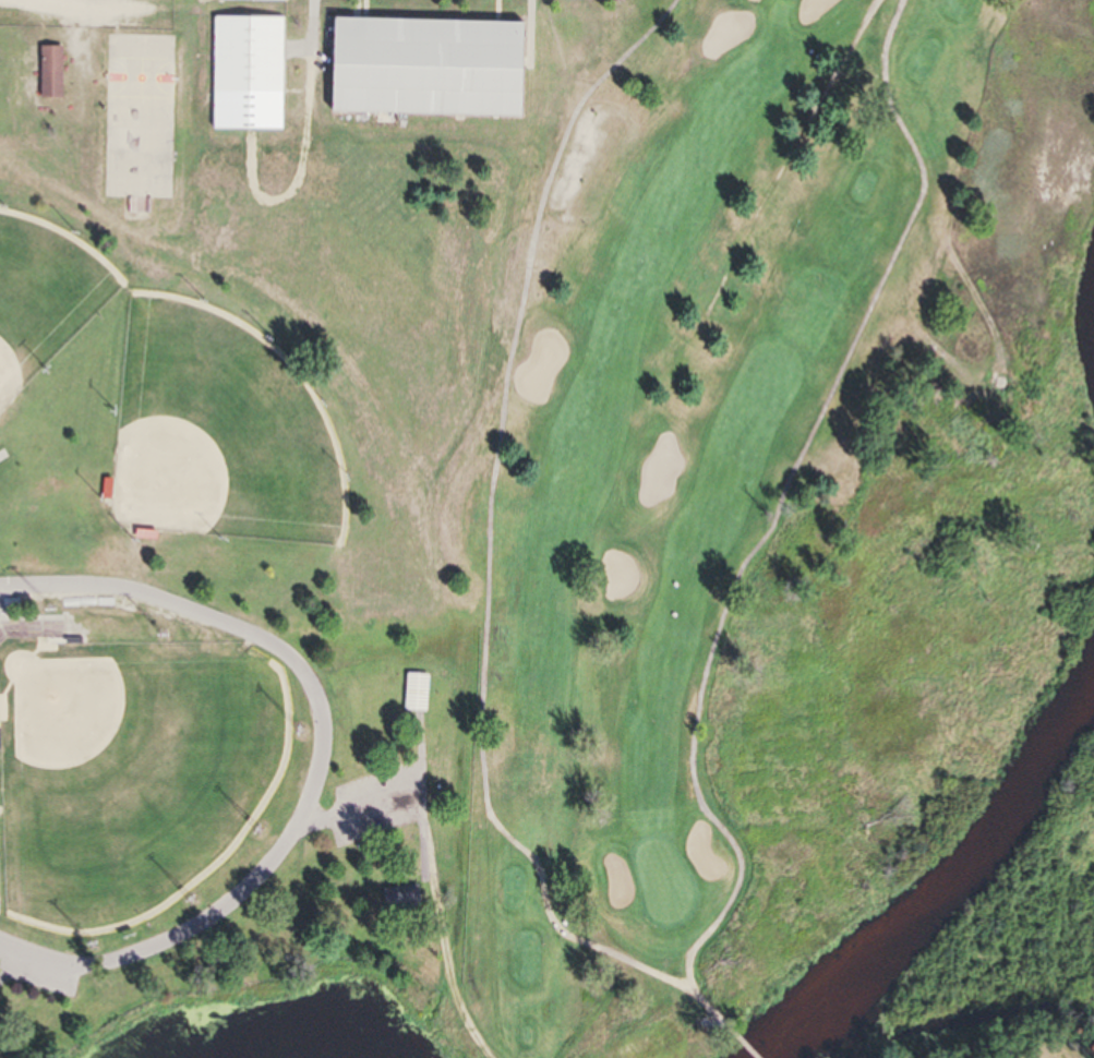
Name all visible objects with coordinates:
building: (251, 1)
road: (61, 3)
building: (422, 68)
building: (48, 73)
building: (245, 74)
park: (141, 117)
road: (791, 158)
park: (44, 298)
park: (219, 435)
park: (242, 480)
road: (492, 505)
park: (786, 552)
road: (753, 554)
road: (264, 641)
building: (416, 692)
park: (130, 772)
river: (930, 861)
building: (400, 901)
road: (141, 957)
parking lot: (39, 969)
road: (651, 1039)

